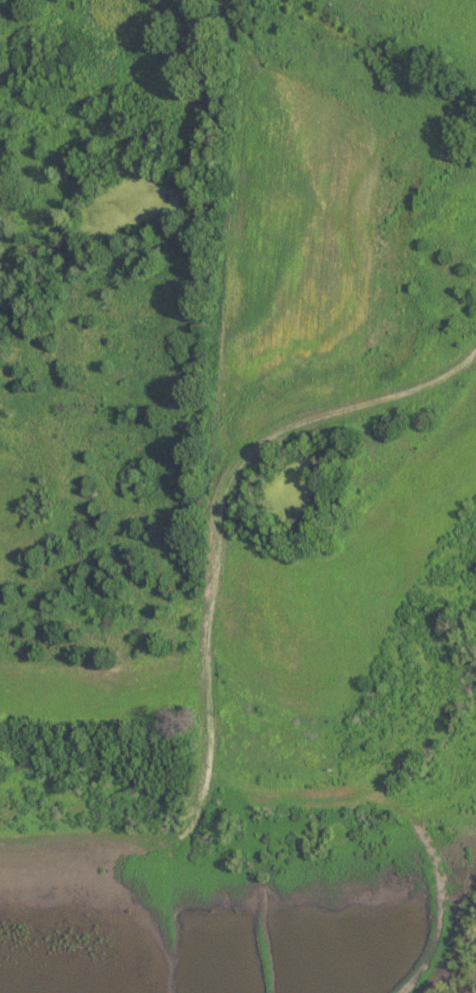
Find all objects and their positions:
crop: (298, 250)
crop: (345, 591)
crop: (97, 693)

